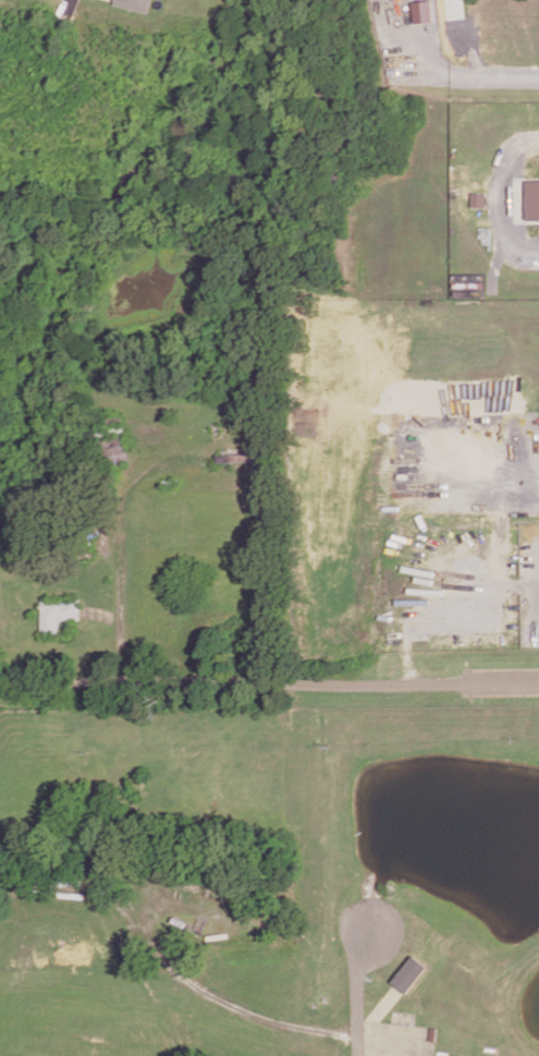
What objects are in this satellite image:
building: (135, 4)
road: (64, 10)
building: (422, 11)
road: (465, 73)
building: (478, 199)
building: (532, 199)
building: (117, 450)
building: (58, 614)
road: (232, 679)
road: (502, 683)
building: (408, 973)

